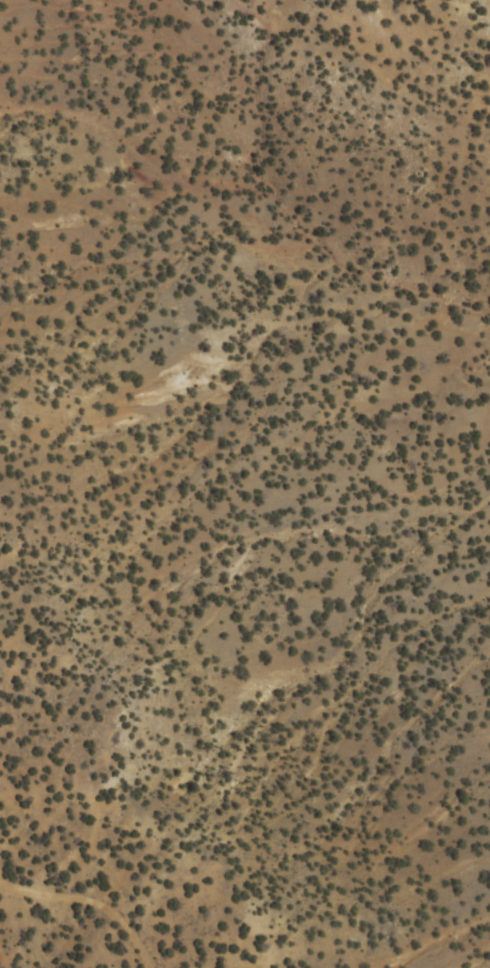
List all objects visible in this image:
road: (30, 933)

